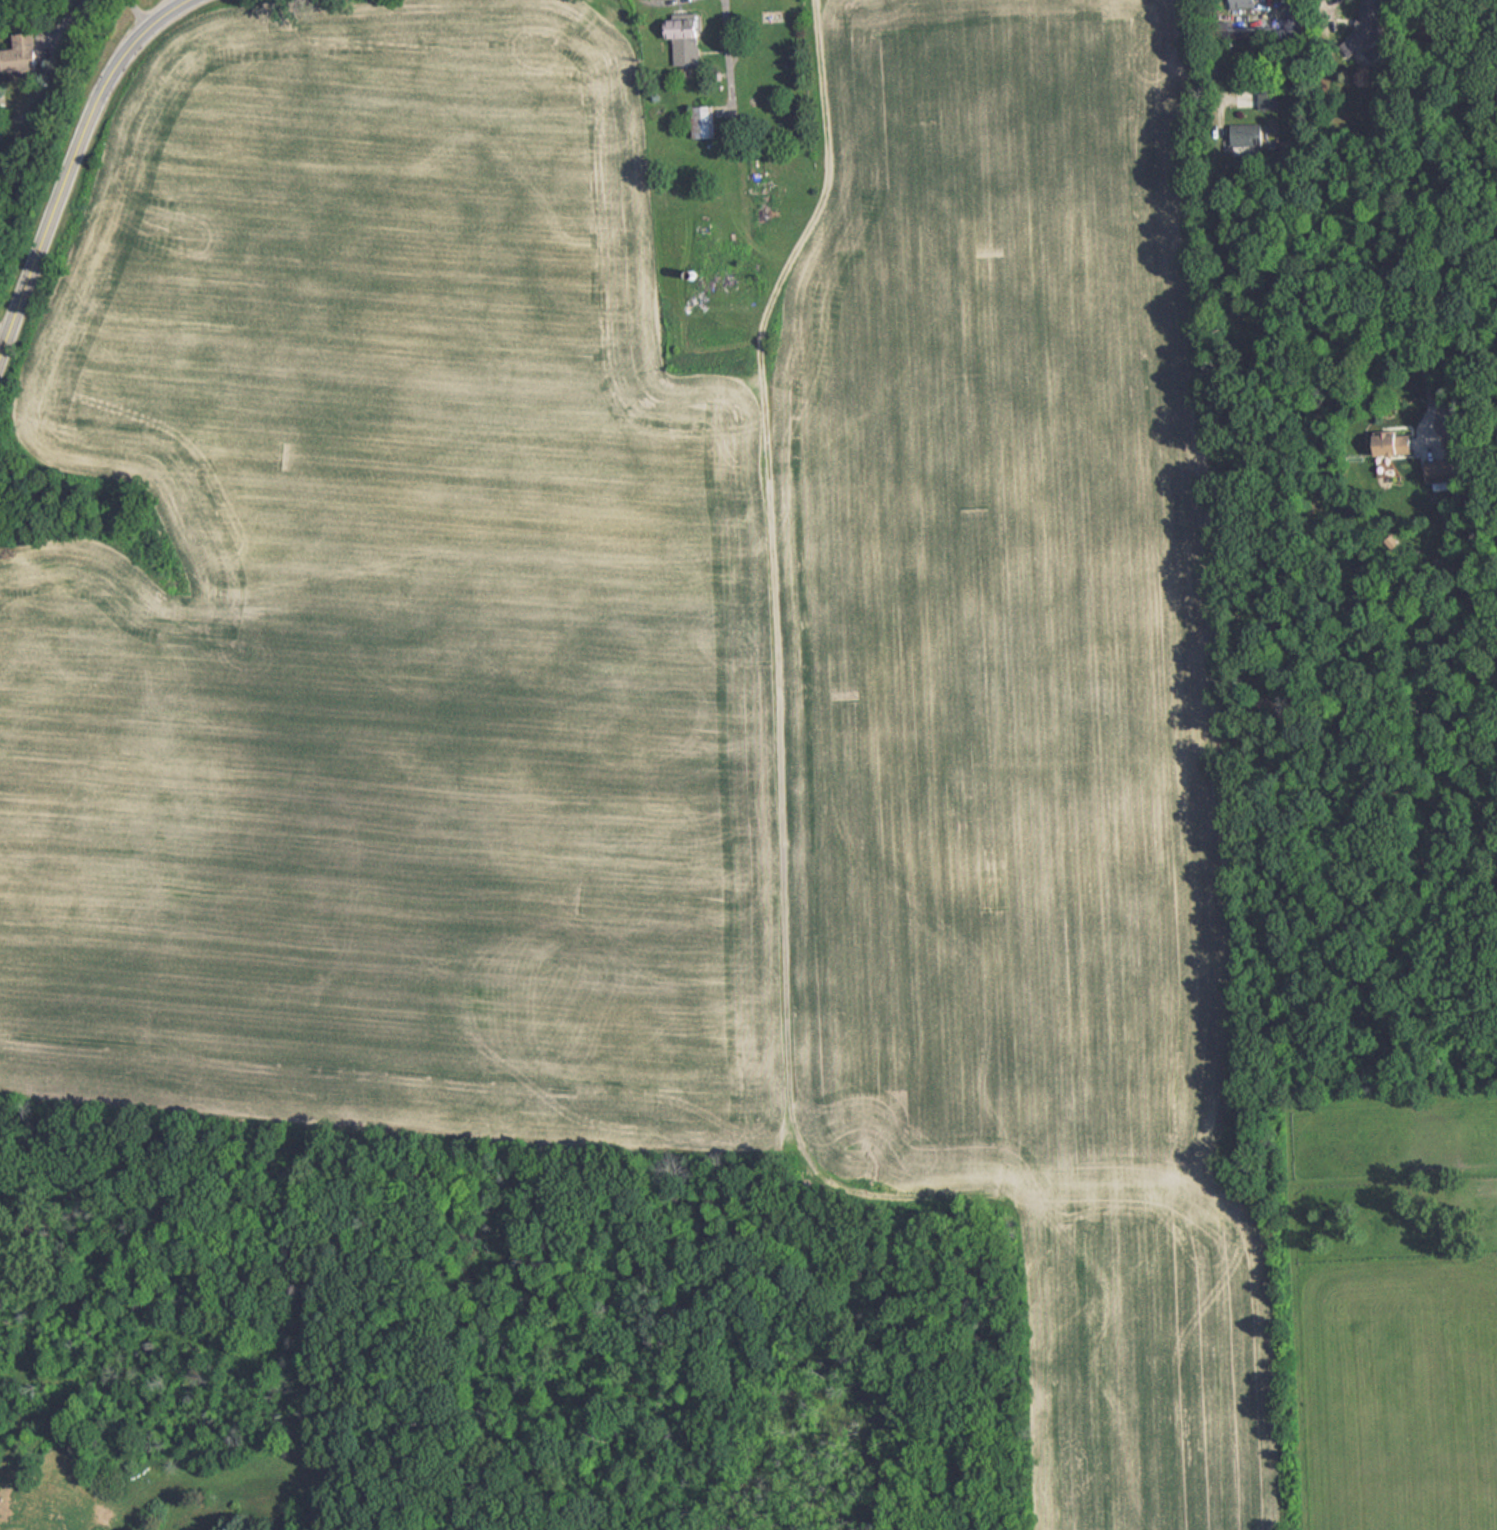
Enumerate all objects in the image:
building: (1244, 3)
road: (138, 12)
road: (674, 16)
road: (68, 18)
building: (1367, 22)
road: (725, 29)
building: (685, 38)
building: (1244, 38)
building: (23, 53)
road: (1213, 56)
building: (1269, 97)
building: (704, 121)
building: (1247, 134)
road: (71, 167)
building: (761, 183)
road: (1418, 212)
building: (703, 233)
building: (1437, 470)

